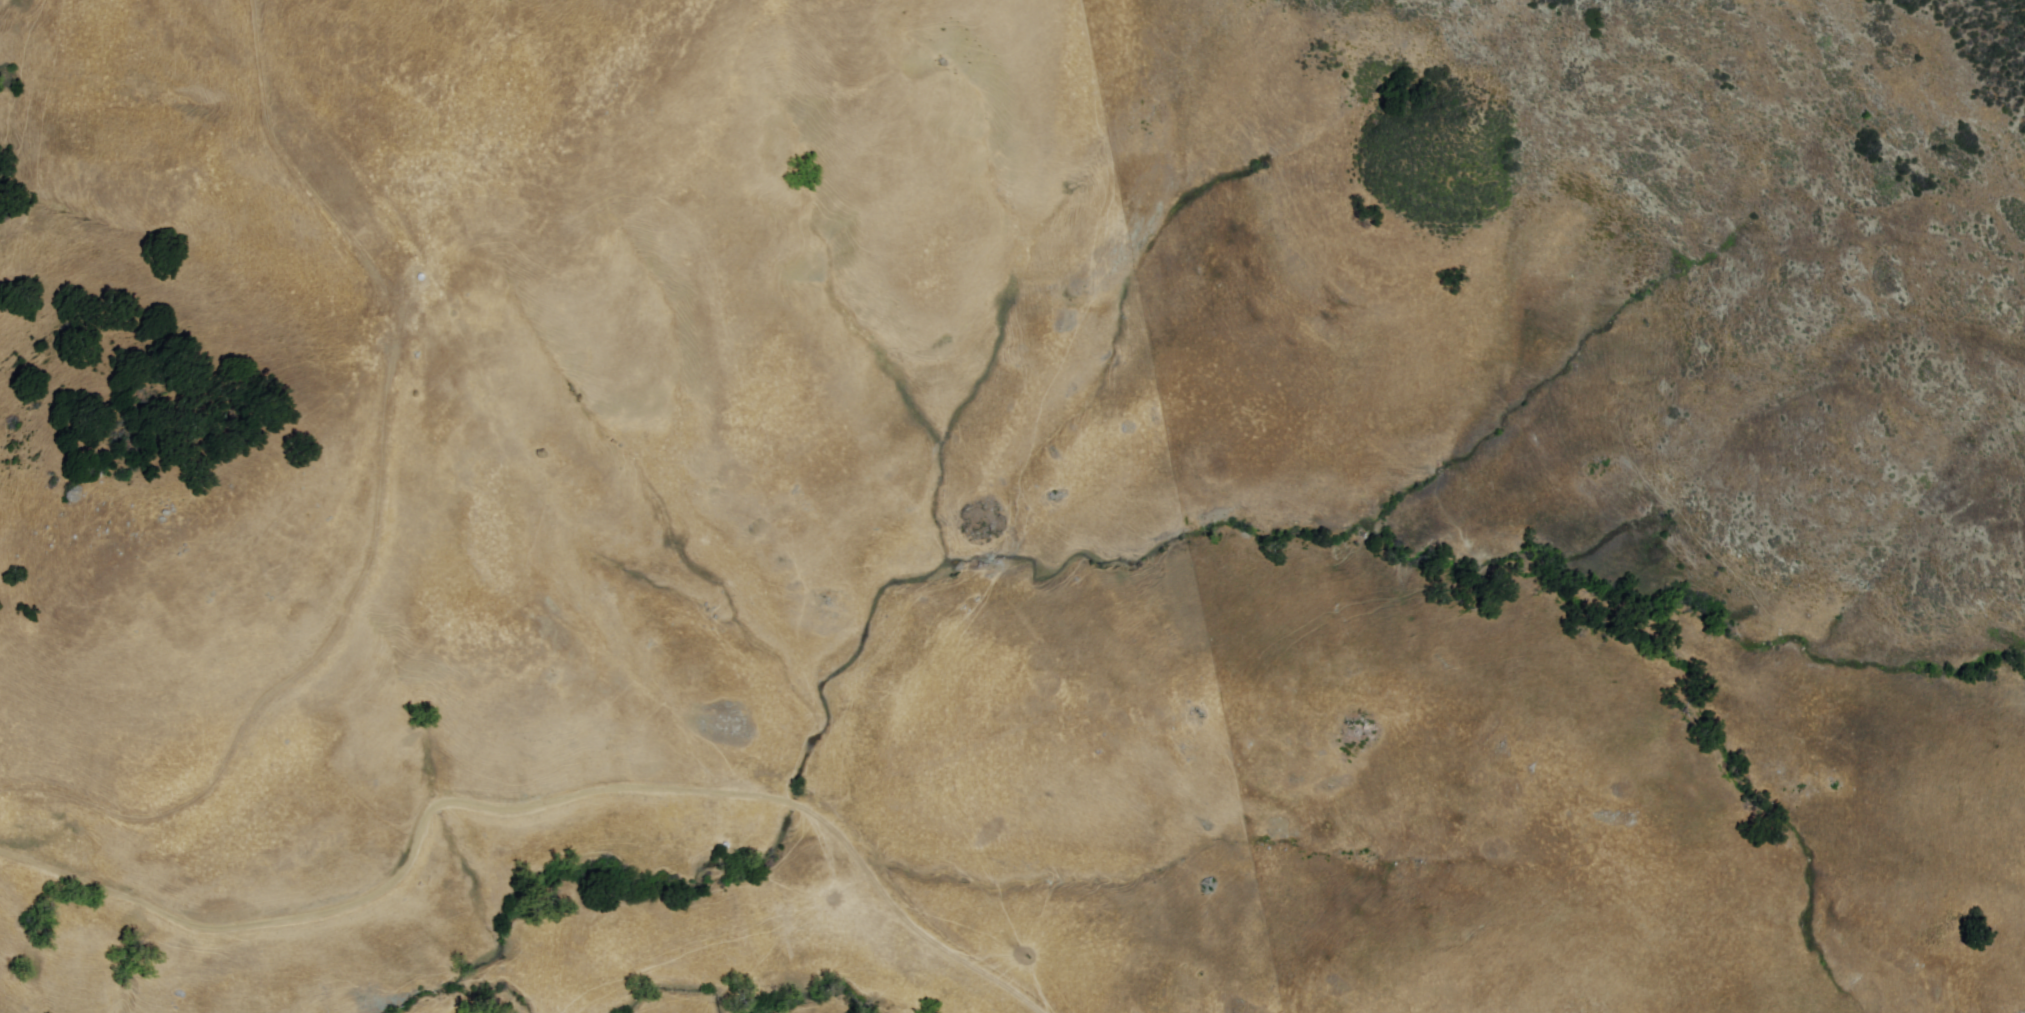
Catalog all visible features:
road: (288, 677)
road: (528, 809)

